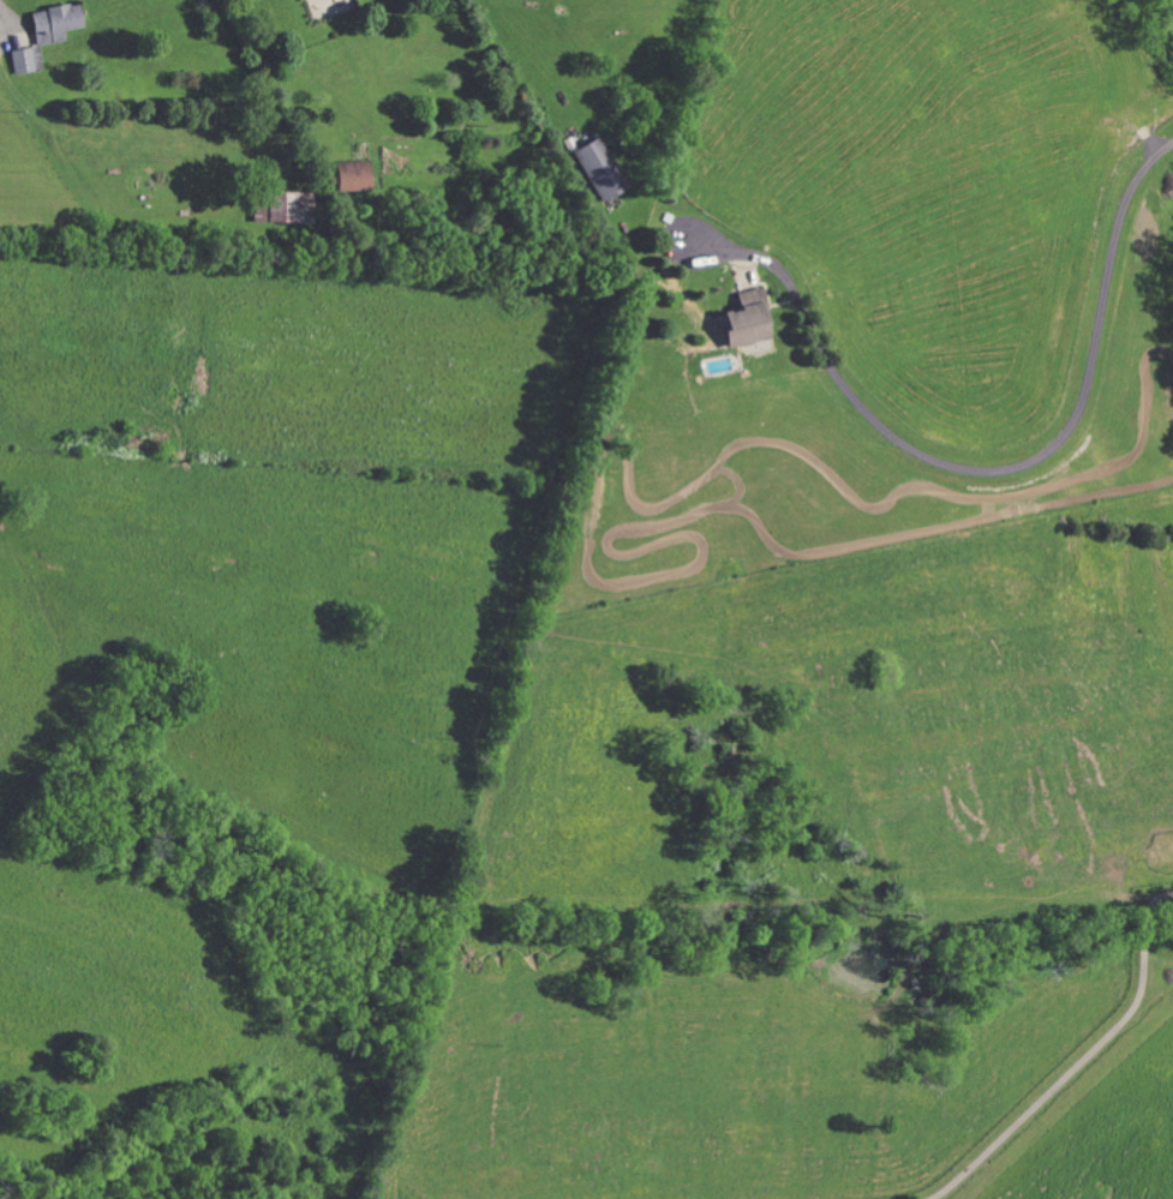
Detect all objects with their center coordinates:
building: (53, 24)
building: (24, 61)
building: (598, 168)
building: (351, 175)
building: (283, 208)
building: (744, 319)
road: (994, 470)
road: (1085, 1056)

